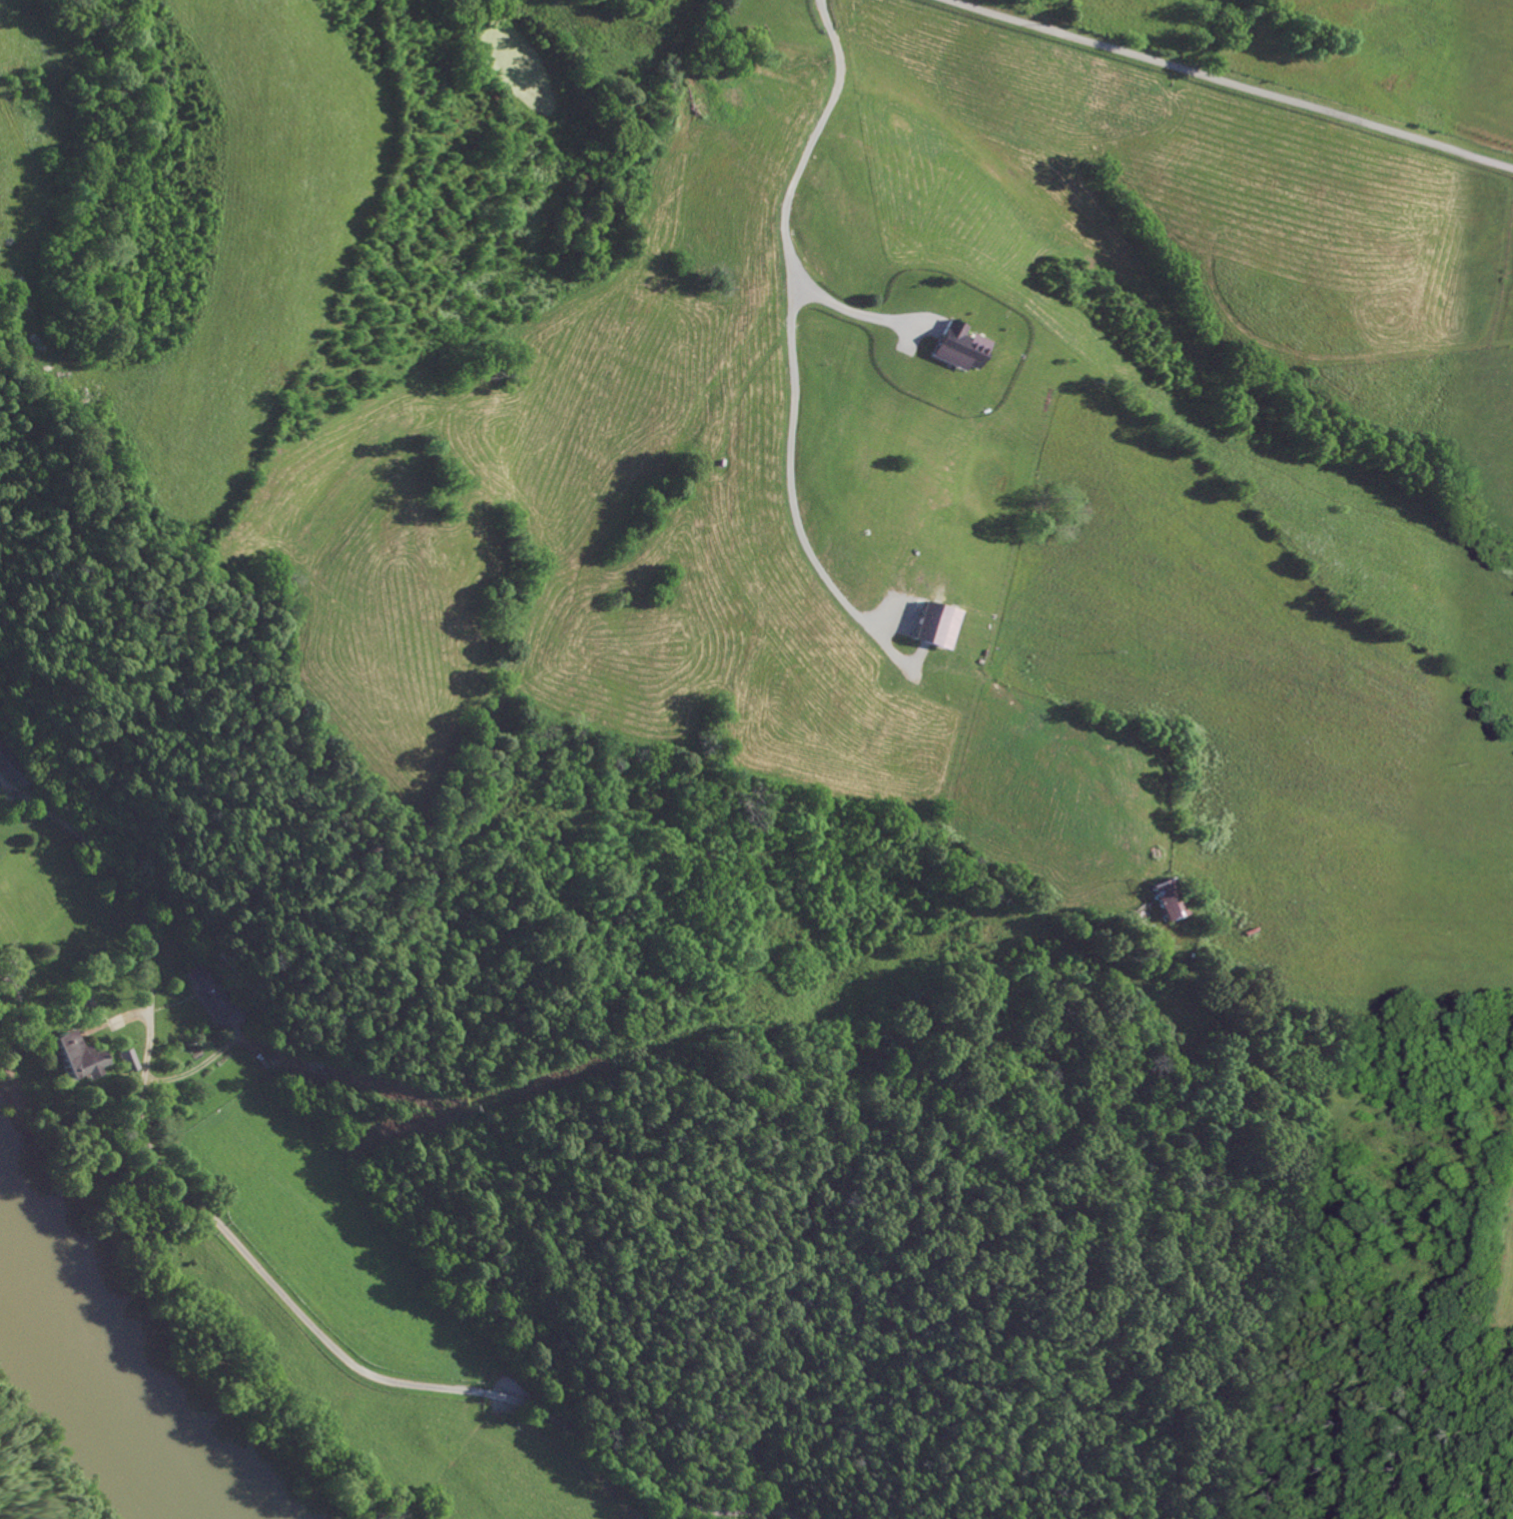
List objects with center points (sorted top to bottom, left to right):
road: (1229, 83)
road: (840, 309)
road: (792, 317)
building: (955, 348)
building: (931, 627)
building: (9, 769)
building: (1164, 901)
building: (213, 995)
road: (1332, 1011)
building: (68, 1056)
building: (127, 1060)
road: (266, 1275)
river: (103, 1375)
road: (777, 1513)

